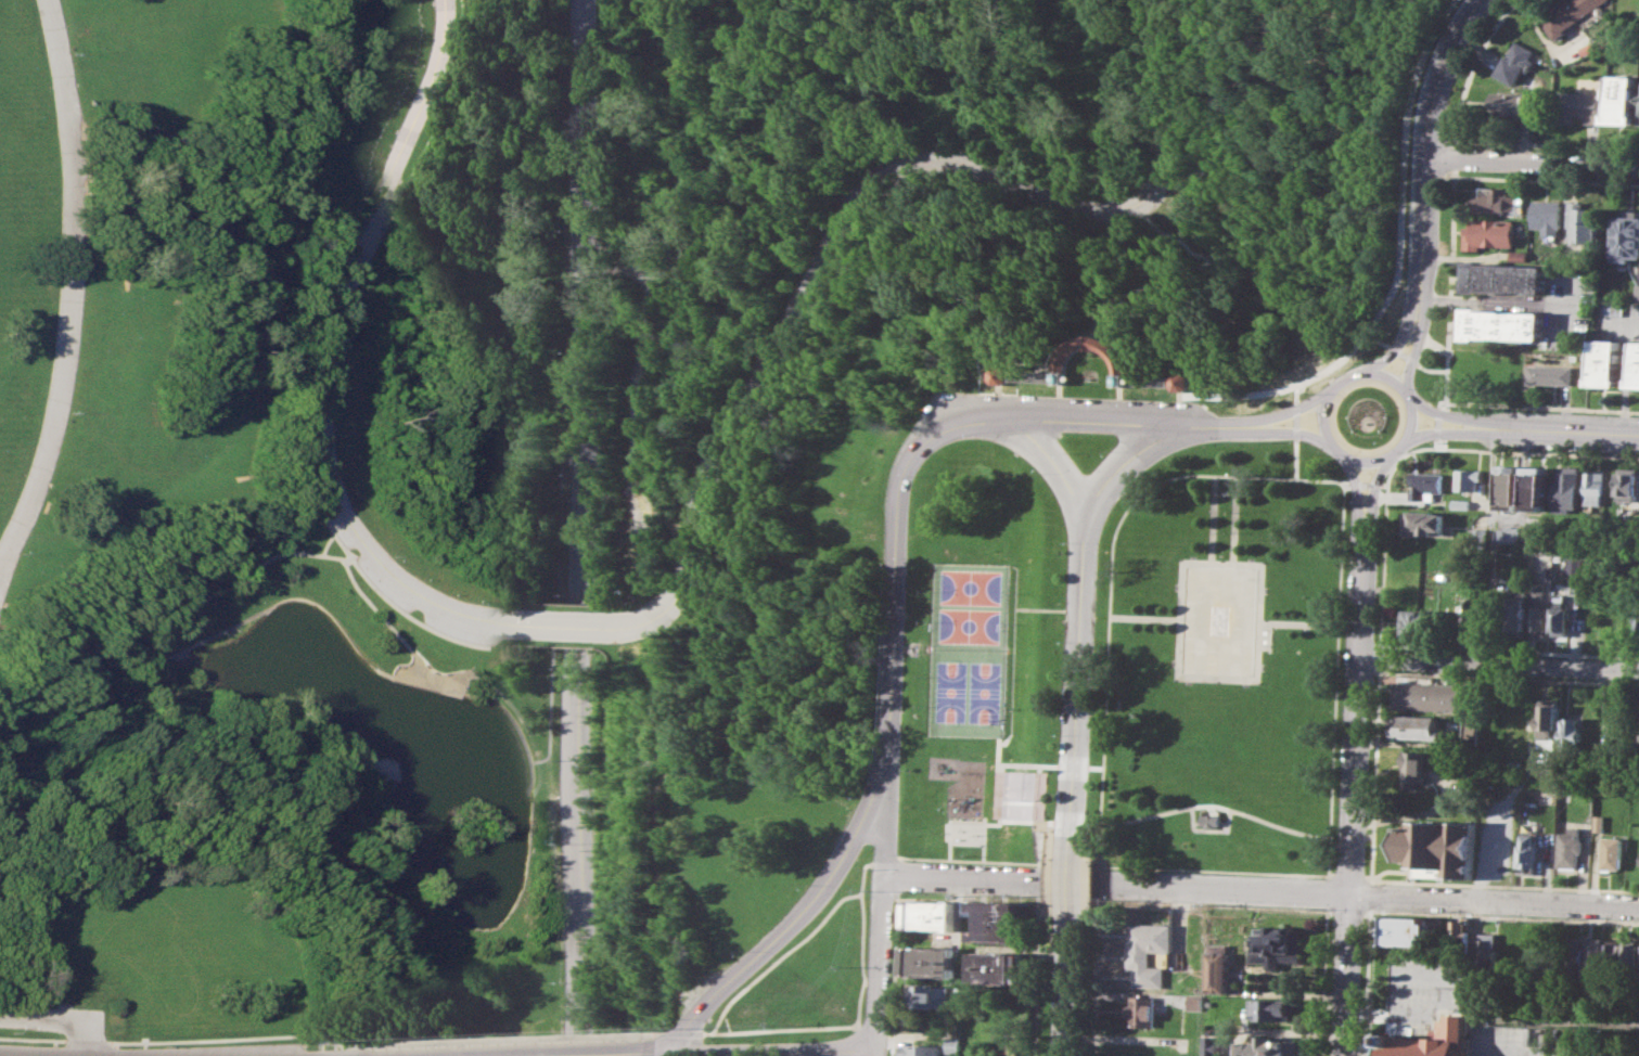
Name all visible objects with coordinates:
building: (1566, 15)
road: (1546, 39)
building: (1588, 49)
building: (1518, 60)
building: (1624, 99)
building: (1513, 102)
building: (1579, 106)
road: (1430, 120)
road: (1547, 144)
road: (1533, 160)
road: (1547, 179)
road: (863, 191)
road: (1455, 193)
building: (1498, 201)
building: (1548, 216)
building: (1583, 222)
building: (1488, 233)
building: (1626, 239)
building: (1519, 256)
road: (1397, 269)
building: (1506, 276)
road: (68, 285)
building: (1637, 291)
road: (1502, 301)
road: (1406, 322)
building: (1504, 324)
road: (1422, 325)
road: (1104, 344)
road: (322, 352)
road: (1405, 356)
building: (1117, 360)
building: (1605, 362)
building: (1636, 364)
building: (1000, 373)
road: (1348, 374)
building: (1551, 374)
road: (1386, 376)
road: (1062, 377)
road: (1115, 378)
road: (1052, 379)
building: (1179, 381)
road: (1182, 381)
road: (1126, 384)
road: (560, 386)
road: (998, 397)
road: (1058, 398)
road: (1119, 400)
road: (1516, 405)
road: (1322, 407)
road: (1291, 409)
road: (1457, 415)
road: (1410, 417)
road: (1076, 418)
road: (1575, 429)
road: (1289, 430)
road: (1295, 432)
road: (1457, 432)
road: (1331, 442)
road: (1398, 446)
road: (1362, 460)
park: (572, 463)
road: (1060, 471)
building: (1469, 479)
road: (1365, 484)
building: (1425, 484)
road: (1356, 485)
building: (1629, 485)
building: (1509, 487)
building: (1596, 487)
road: (1373, 488)
building: (1536, 488)
building: (1567, 489)
building: (1461, 503)
flagpole: (1224, 511)
road: (1213, 517)
road: (1233, 518)
building: (1424, 523)
road: (578, 528)
building: (1509, 535)
road: (319, 542)
road: (1384, 544)
road: (1491, 546)
road: (1565, 548)
road: (1112, 554)
building: (1575, 565)
road: (382, 598)
road: (894, 601)
road: (1080, 604)
park: (969, 606)
road: (1012, 607)
road: (1014, 607)
road: (1061, 608)
building: (1538, 610)
road: (253, 611)
building: (1516, 613)
building: (1560, 616)
road: (1144, 617)
road: (380, 619)
fountain: (1219, 619)
road: (1298, 622)
building: (1637, 622)
building: (1420, 623)
road: (573, 627)
building: (1472, 630)
road: (1509, 651)
park: (981, 656)
park: (1221, 660)
road: (1498, 664)
road: (422, 670)
road: (1009, 674)
road: (1256, 678)
road: (1335, 678)
road: (1509, 678)
road: (1260, 681)
park: (965, 691)
building: (1432, 696)
road: (1356, 710)
building: (1549, 722)
building: (1417, 726)
building: (1573, 732)
road: (1049, 765)
road: (1073, 765)
road: (1097, 767)
building: (1412, 768)
road: (1584, 784)
road: (1038, 797)
road: (1217, 804)
road: (885, 817)
road: (998, 820)
building: (1211, 820)
building: (1598, 822)
road: (959, 823)
road: (1072, 824)
road: (1211, 828)
building: (964, 829)
building: (1568, 847)
building: (1437, 848)
road: (950, 849)
building: (1528, 852)
building: (1611, 852)
road: (1041, 861)
road: (1101, 863)
road: (1213, 870)
road: (963, 877)
road: (1504, 885)
road: (1222, 887)
road: (1372, 893)
road: (1494, 899)
road: (439, 907)
building: (968, 907)
street lamp: (1303, 907)
building: (933, 915)
road: (1503, 915)
road: (795, 916)
street lamp: (1362, 918)
building: (999, 922)
road: (1038, 929)
building: (1409, 930)
road: (1096, 935)
building: (1462, 935)
road: (1065, 943)
building: (1277, 945)
building: (1488, 949)
building: (1509, 950)
building: (1147, 952)
road: (782, 955)
road: (895, 956)
building: (1576, 956)
building: (1615, 956)
building: (1631, 956)
building: (1597, 957)
road: (862, 958)
road: (878, 961)
building: (929, 961)
road: (1326, 966)
building: (998, 967)
building: (1217, 967)
road: (1346, 974)
road: (1367, 982)
building: (927, 995)
building: (1193, 1002)
building: (1271, 1008)
building: (1140, 1010)
road: (1388, 1012)
road: (59, 1017)
road: (1499, 1019)
street lamp: (1358, 1022)
road: (1391, 1027)
road: (512, 1038)
road: (188, 1039)
building: (1638, 1039)
road: (859, 1040)
building: (1430, 1041)
road: (114, 1043)
road: (321, 1044)
building: (949, 1044)
building: (1267, 1046)
road: (1538, 1047)
building: (1212, 1048)
road: (779, 1049)
road: (113, 1051)
building: (918, 1051)
road: (667, 1052)
road: (321, 1053)
road: (874, 1053)
road: (596, 1054)

